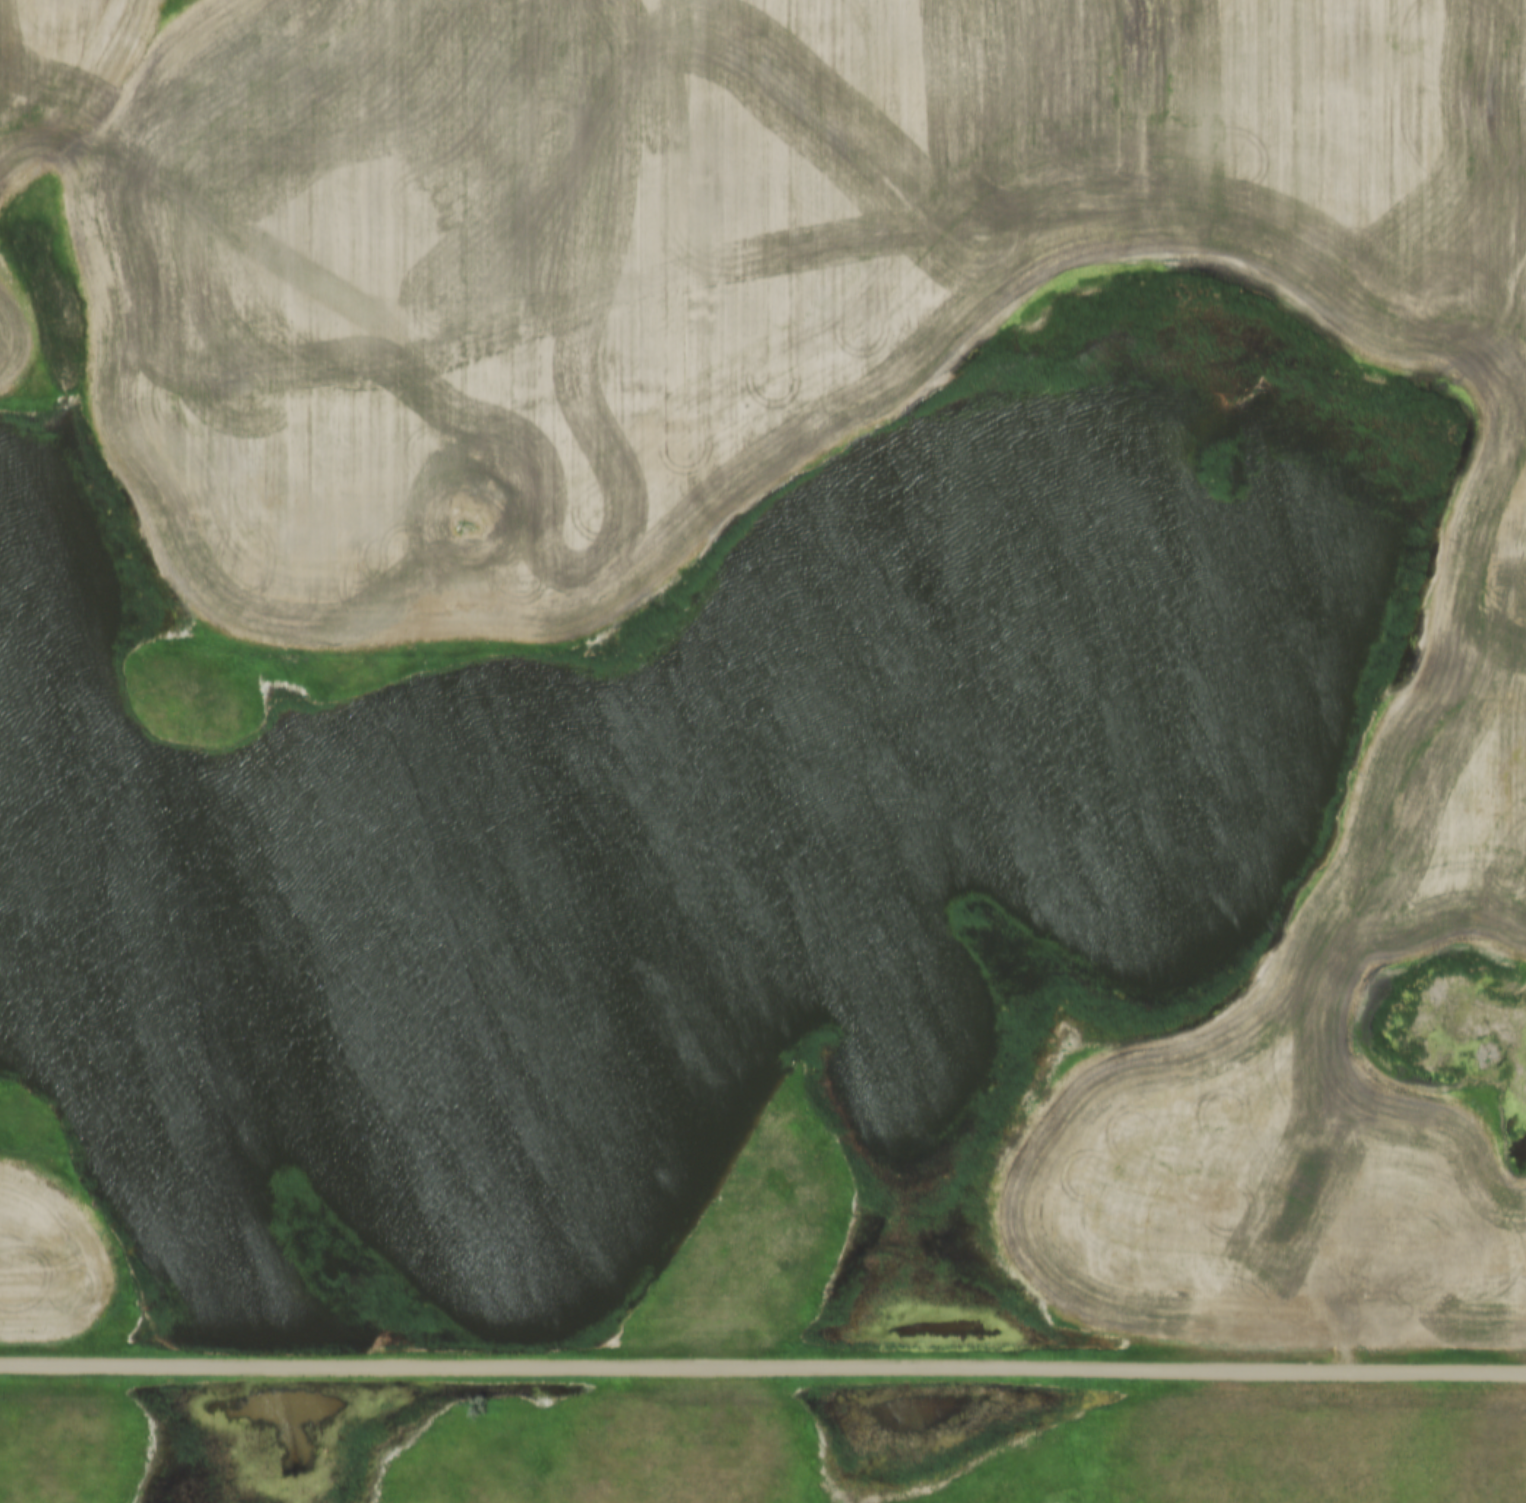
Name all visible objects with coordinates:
road: (763, 1366)

